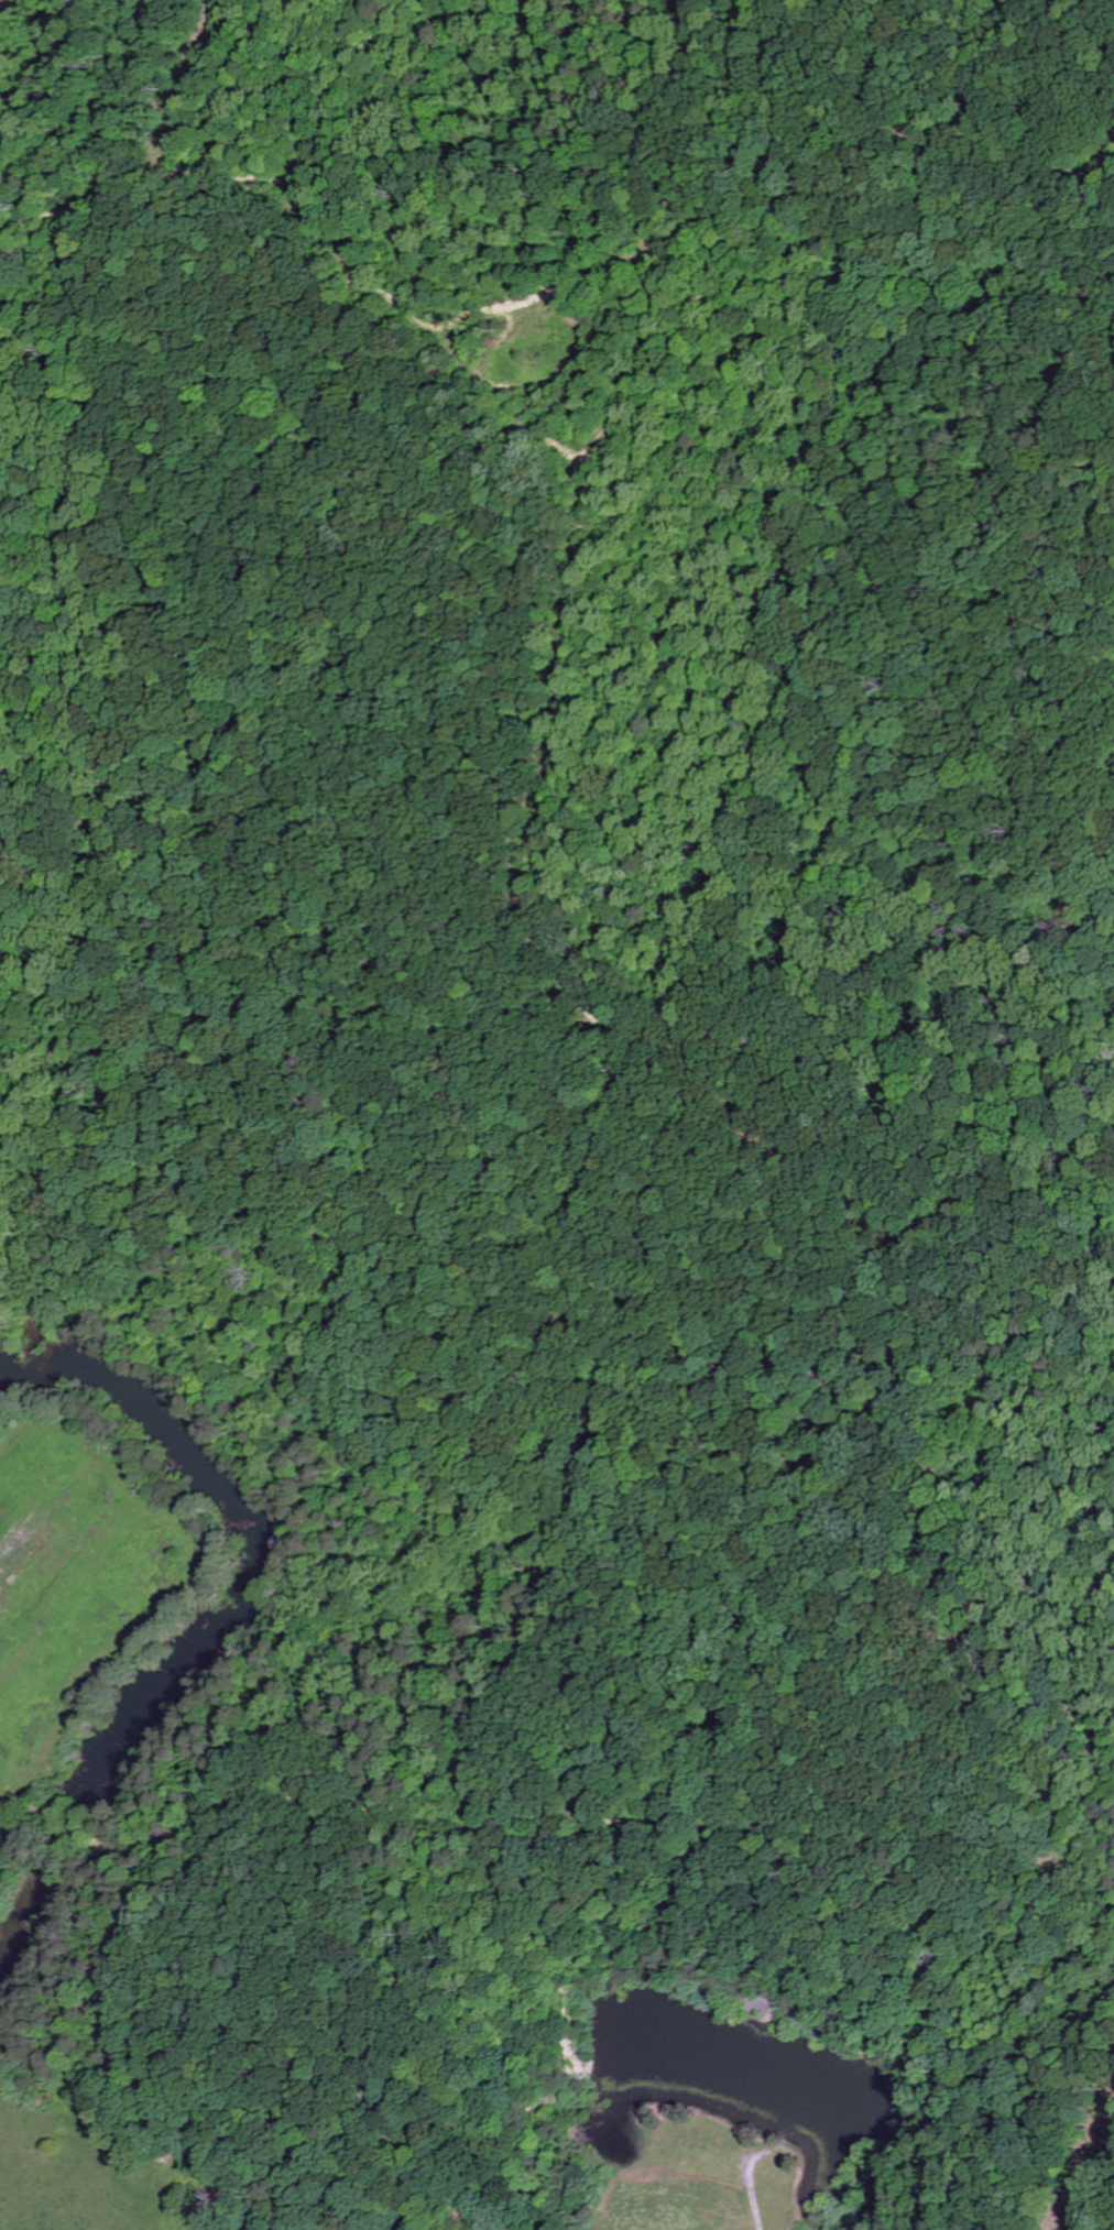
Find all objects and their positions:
road: (9, 1788)

